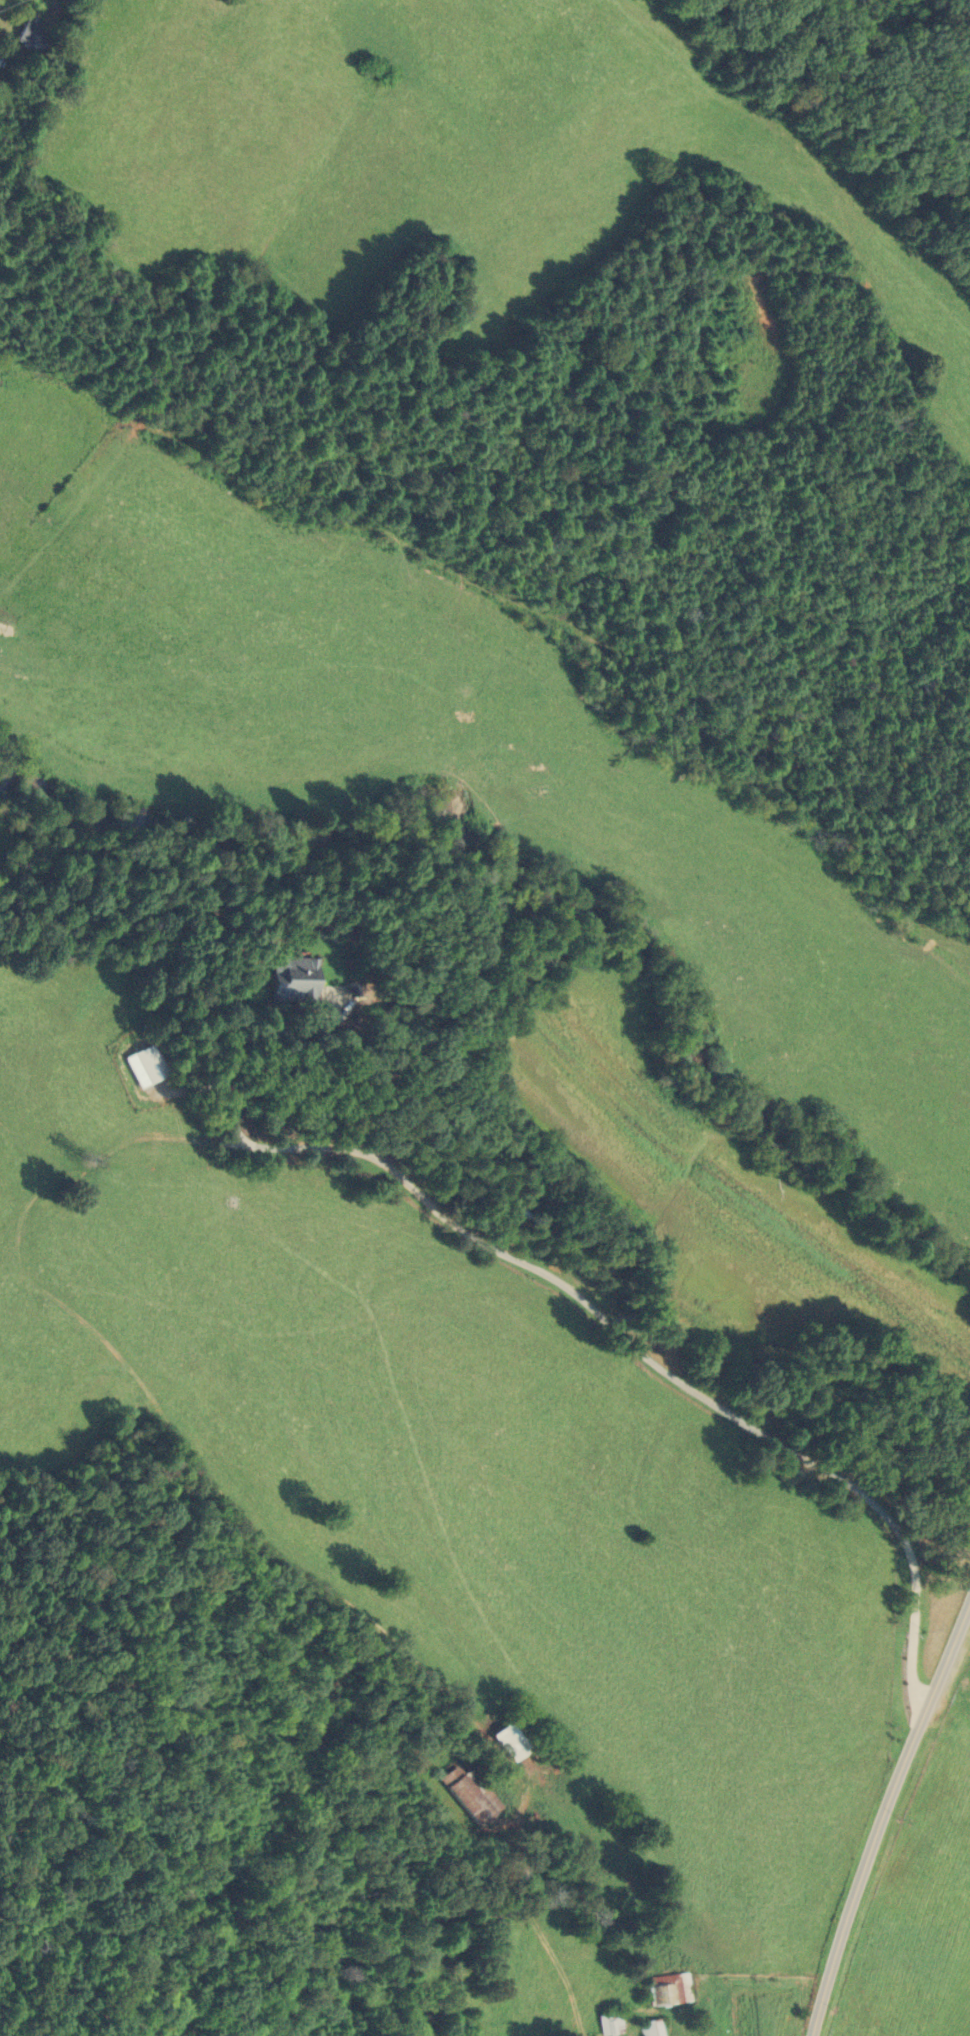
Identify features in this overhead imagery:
building: (29, 34)
building: (289, 979)
road: (565, 1287)
building: (467, 1795)
road: (882, 1819)
building: (669, 1988)
building: (609, 2023)
building: (651, 2027)

